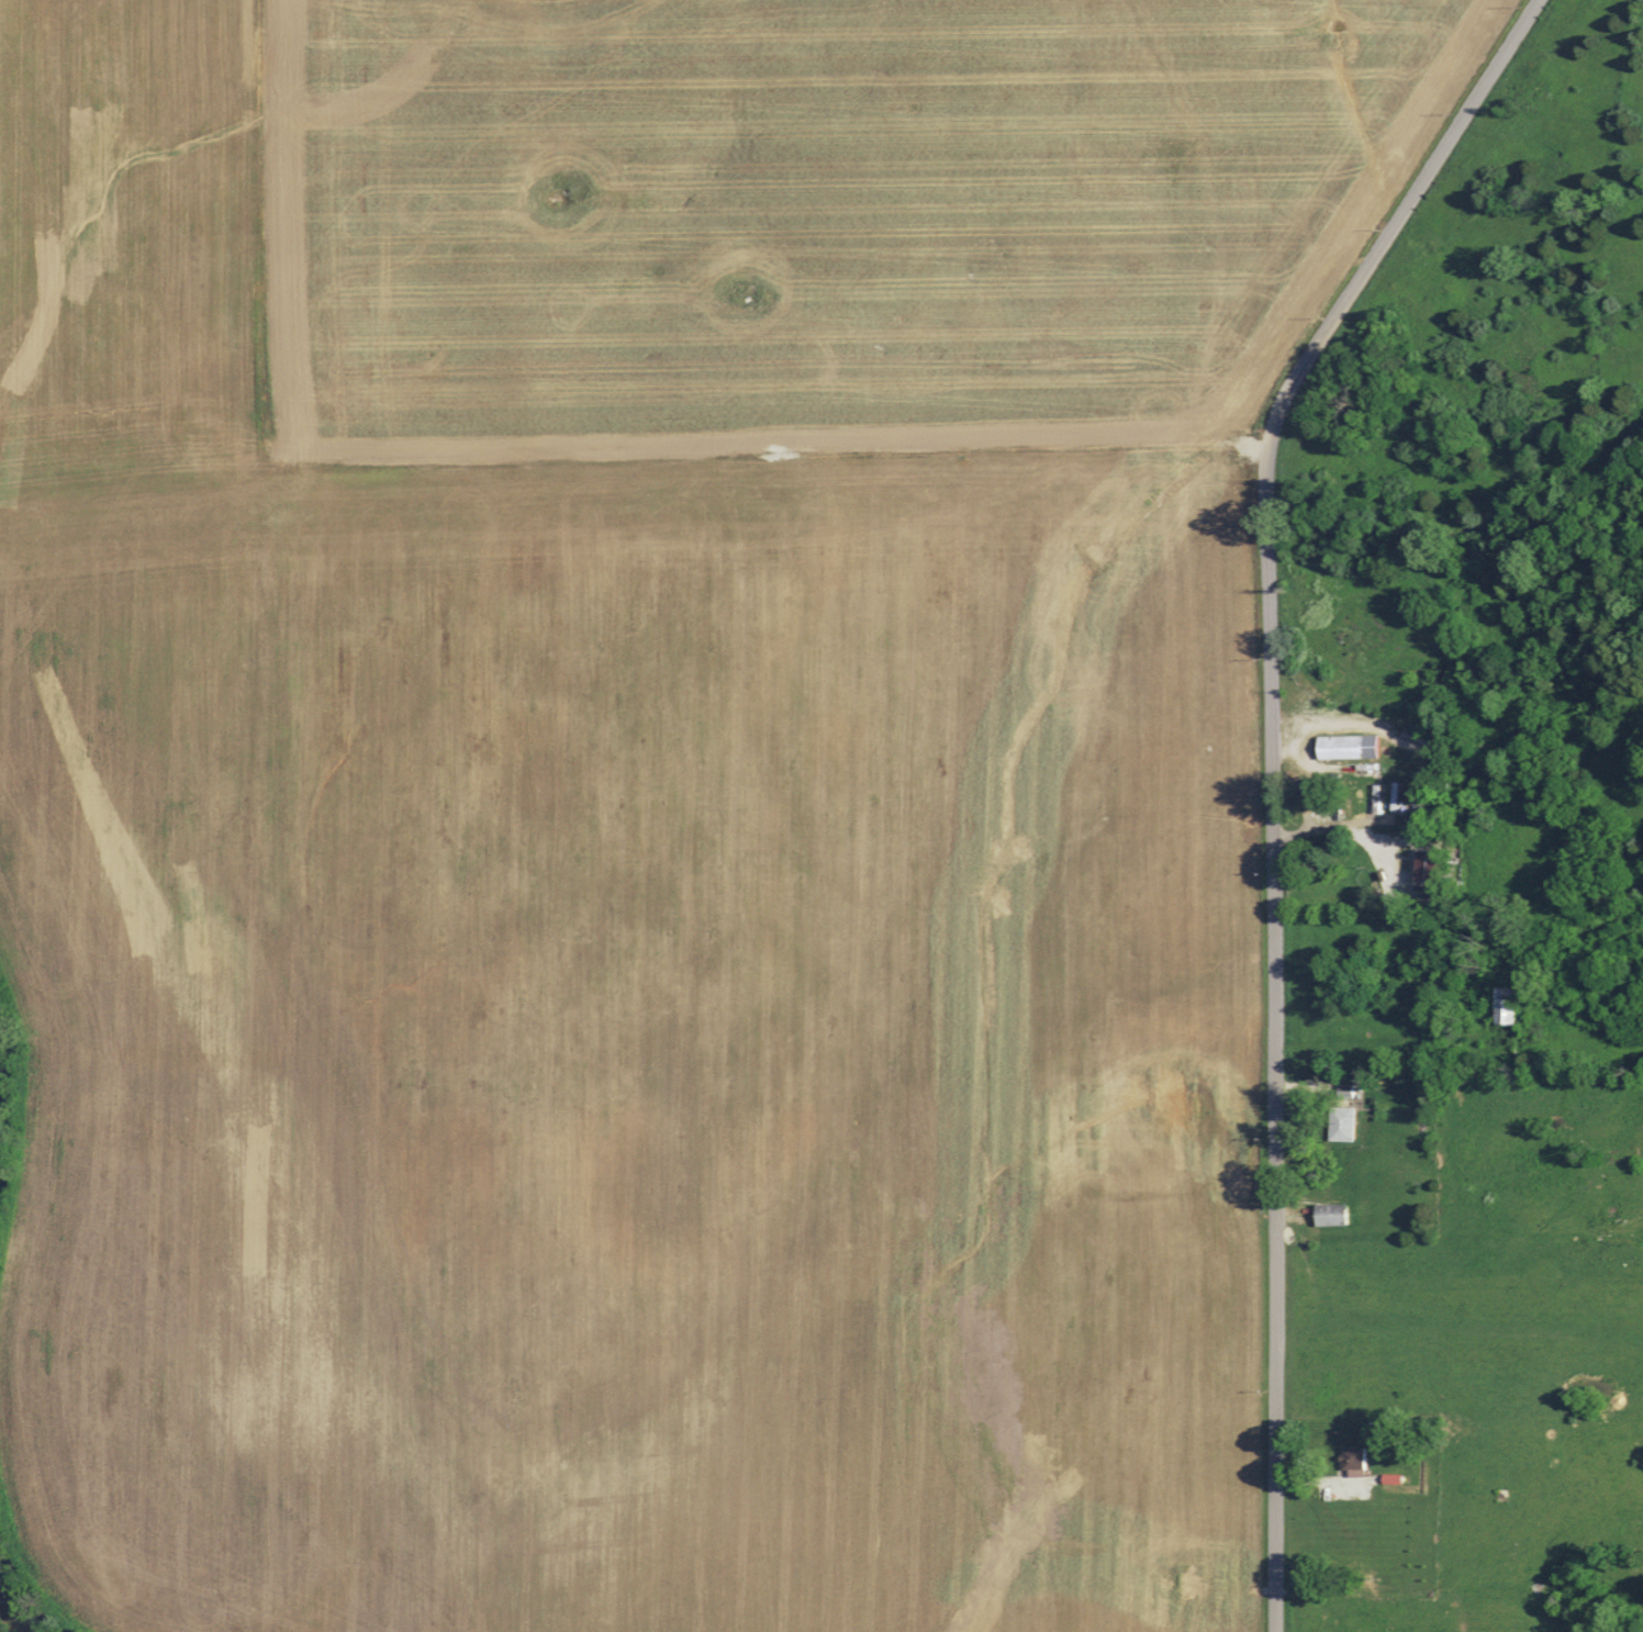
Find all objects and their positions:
road: (1398, 217)
building: (1345, 746)
road: (1337, 831)
building: (1422, 864)
building: (1502, 1005)
road: (1276, 1036)
building: (1340, 1122)
river: (9, 1142)
building: (1328, 1214)
building: (1351, 1461)
river: (20, 1614)

